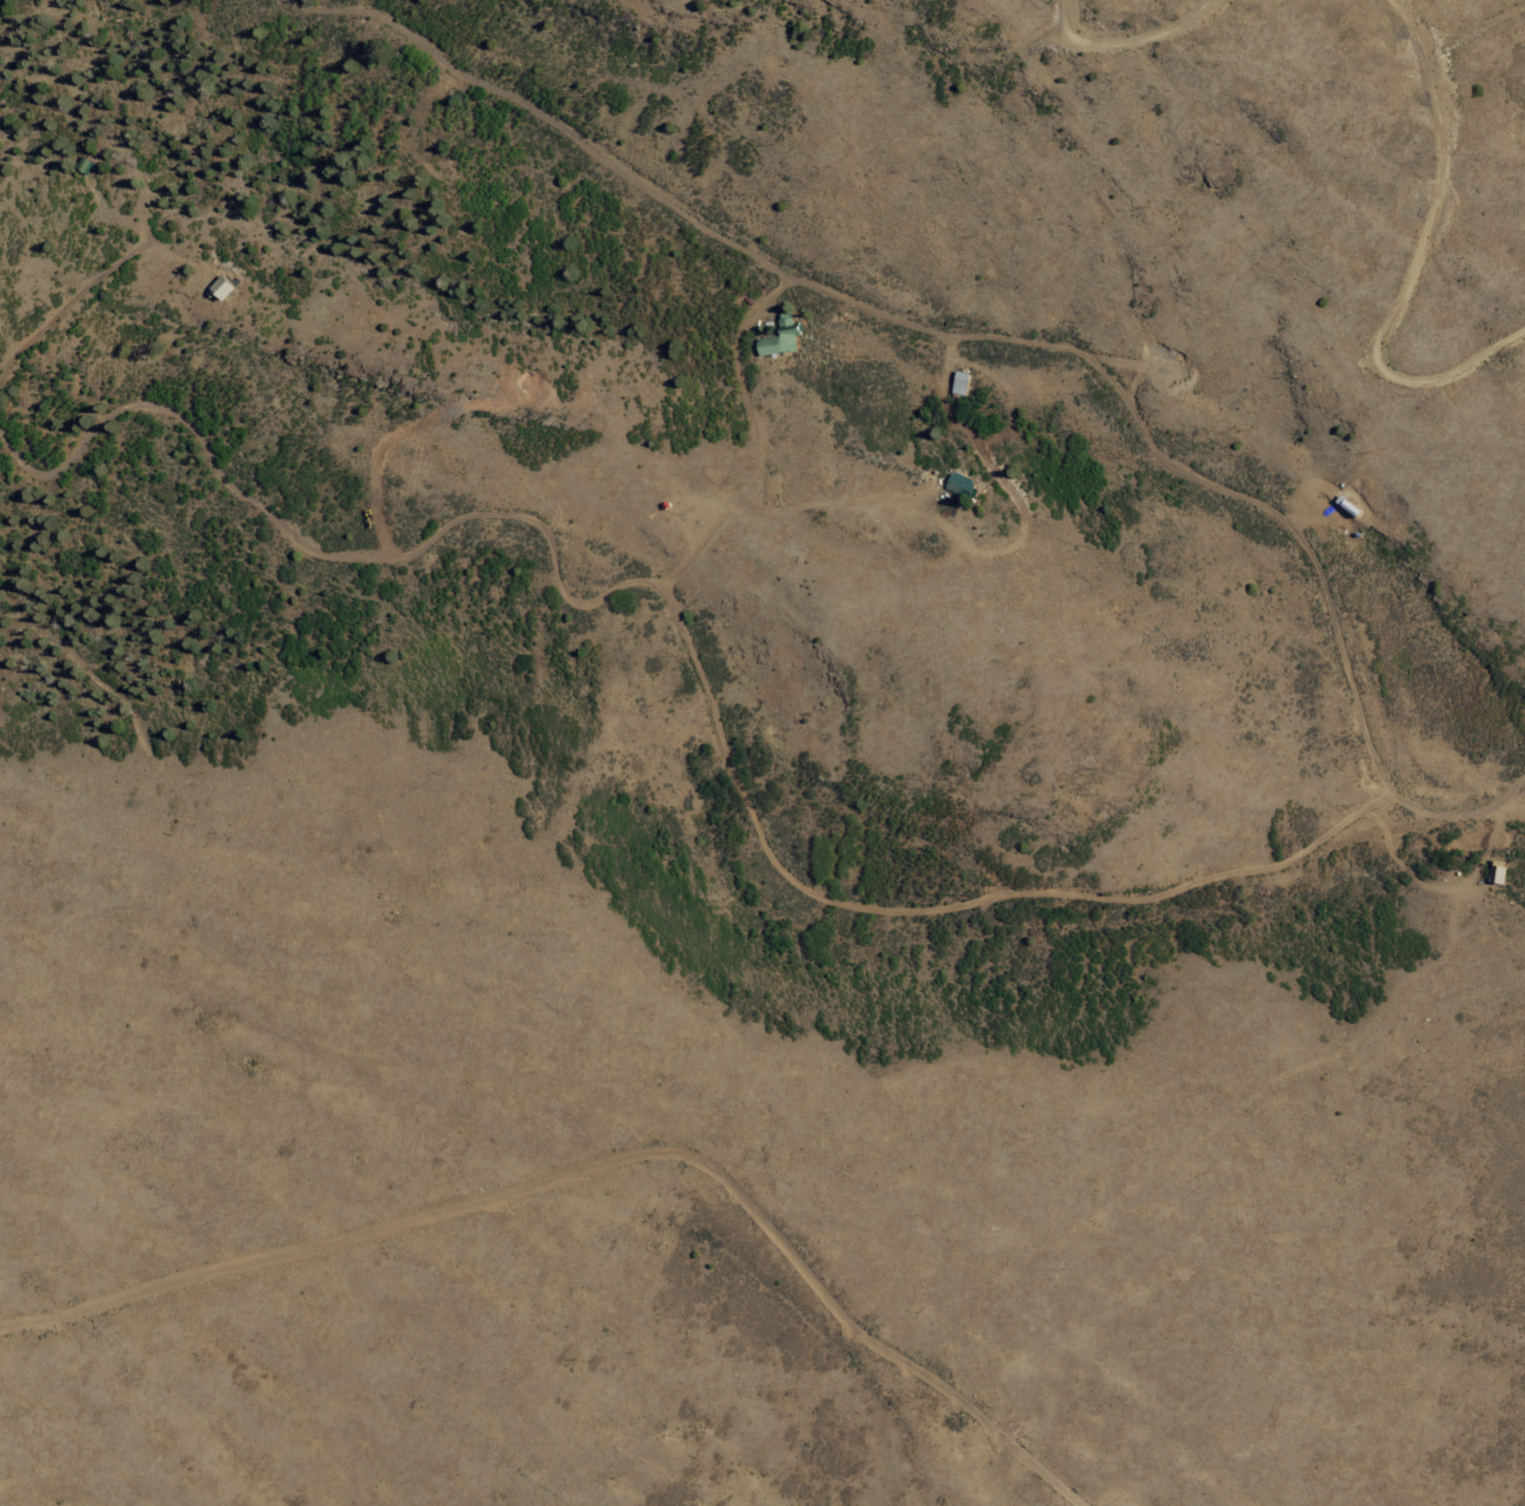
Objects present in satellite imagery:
building: (88, 166)
building: (225, 287)
building: (782, 337)
road: (970, 344)
building: (960, 383)
building: (962, 485)
road: (628, 1156)

